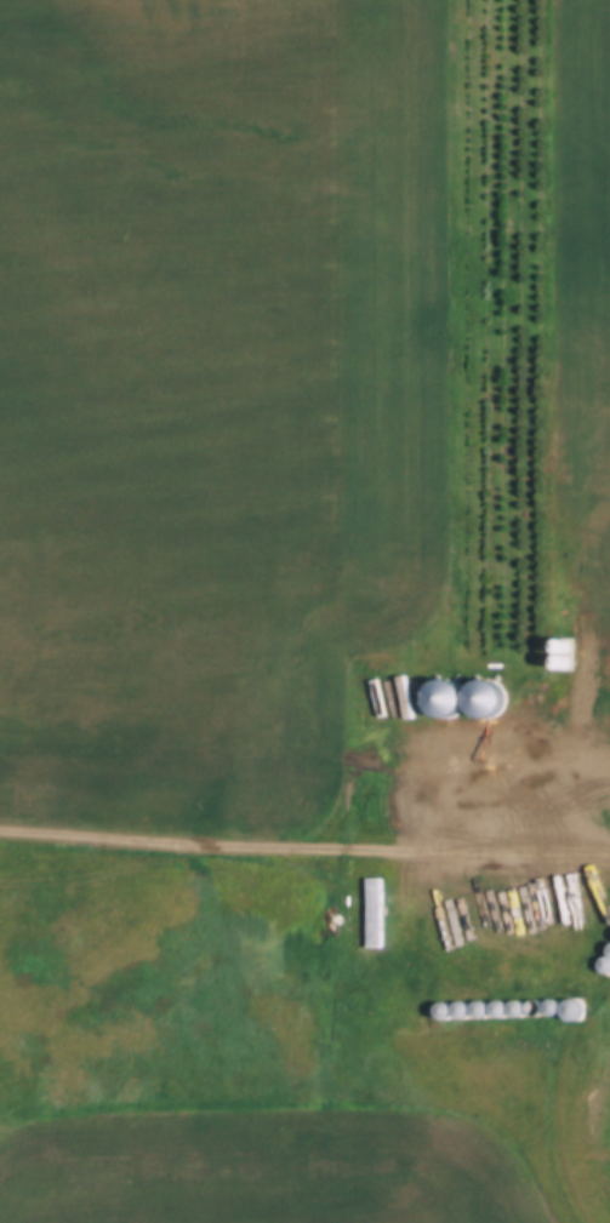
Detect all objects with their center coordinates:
building: (568, 658)
building: (449, 701)
building: (491, 702)
road: (304, 853)
building: (605, 967)

